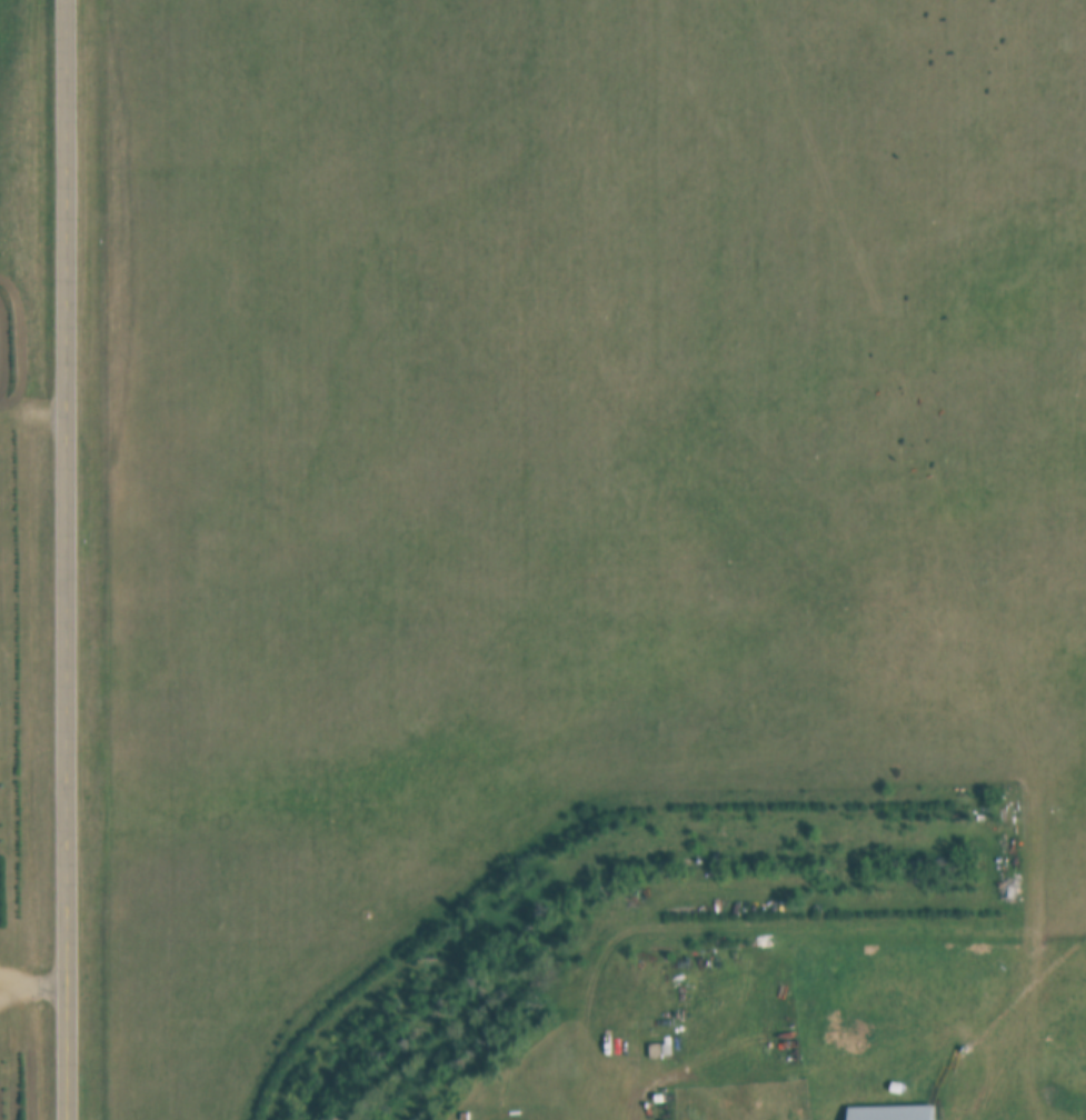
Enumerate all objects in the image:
road: (68, 560)
road: (804, 930)
road: (34, 970)
building: (899, 1113)

